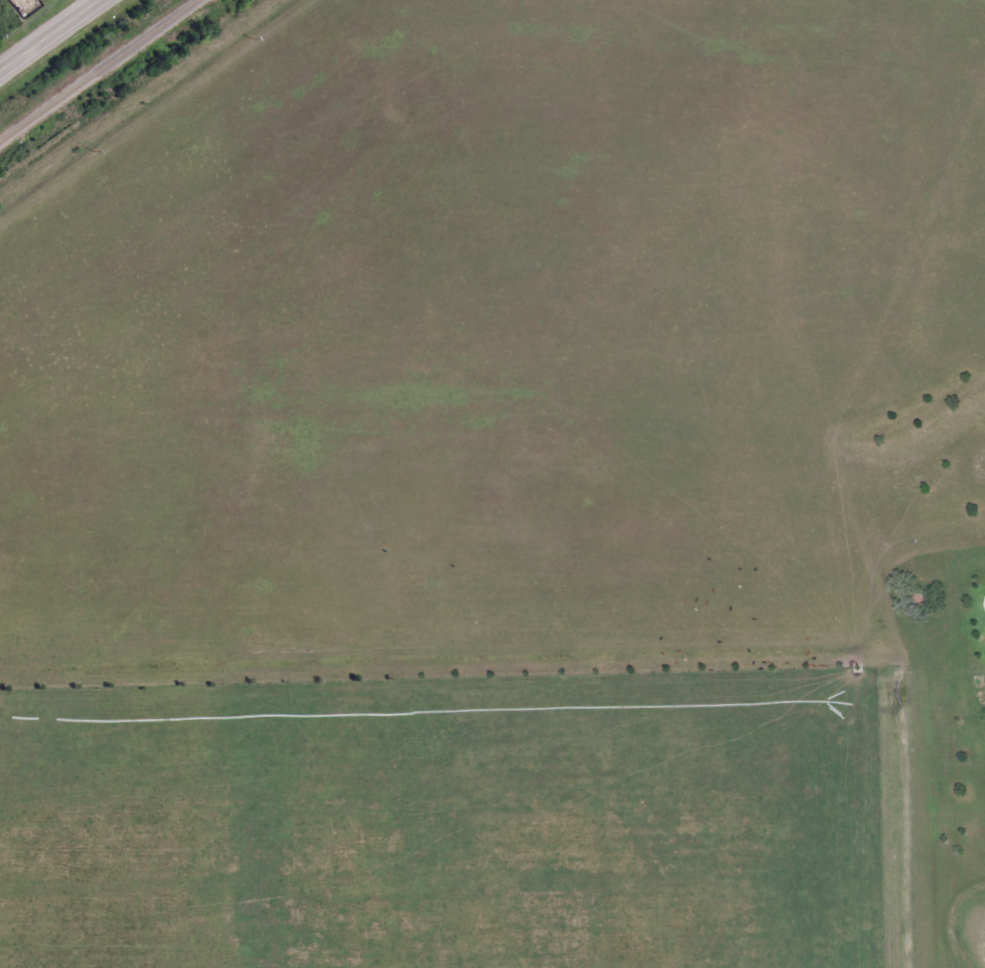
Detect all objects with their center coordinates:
road: (54, 38)
railway: (95, 68)
building: (983, 601)

